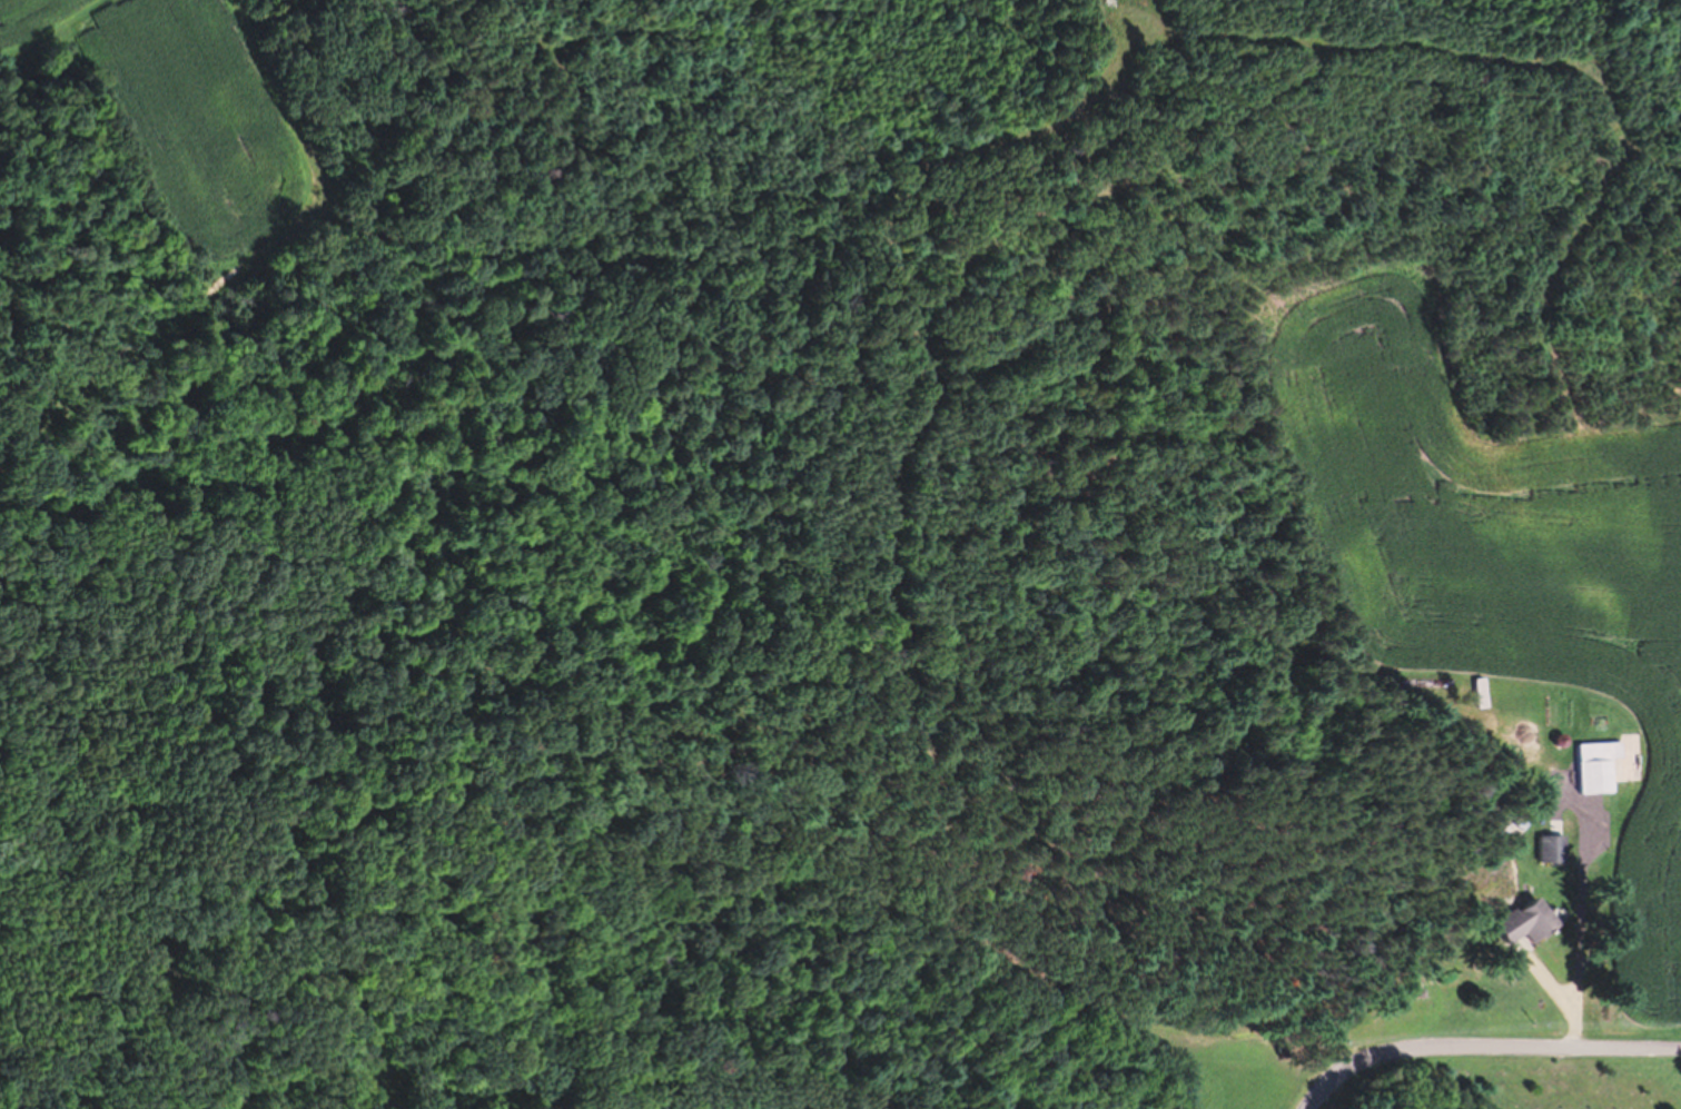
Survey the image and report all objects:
building: (1489, 694)
building: (1606, 768)
building: (1562, 850)
building: (1541, 922)
road: (1631, 1103)

